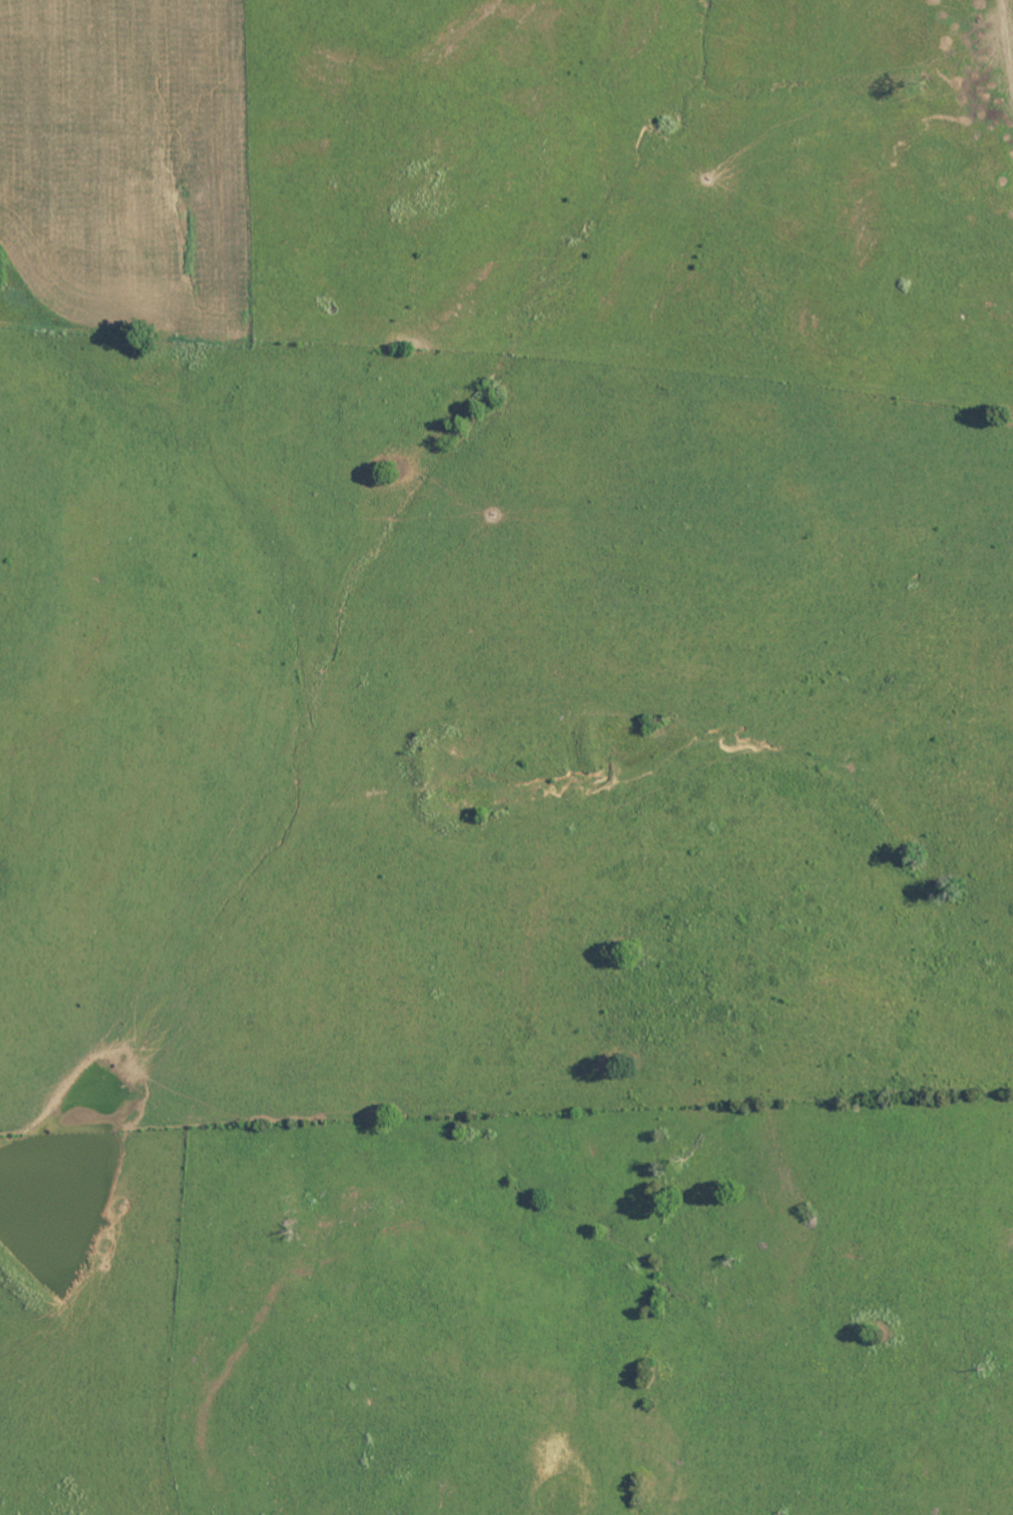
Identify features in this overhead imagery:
road: (994, 221)

